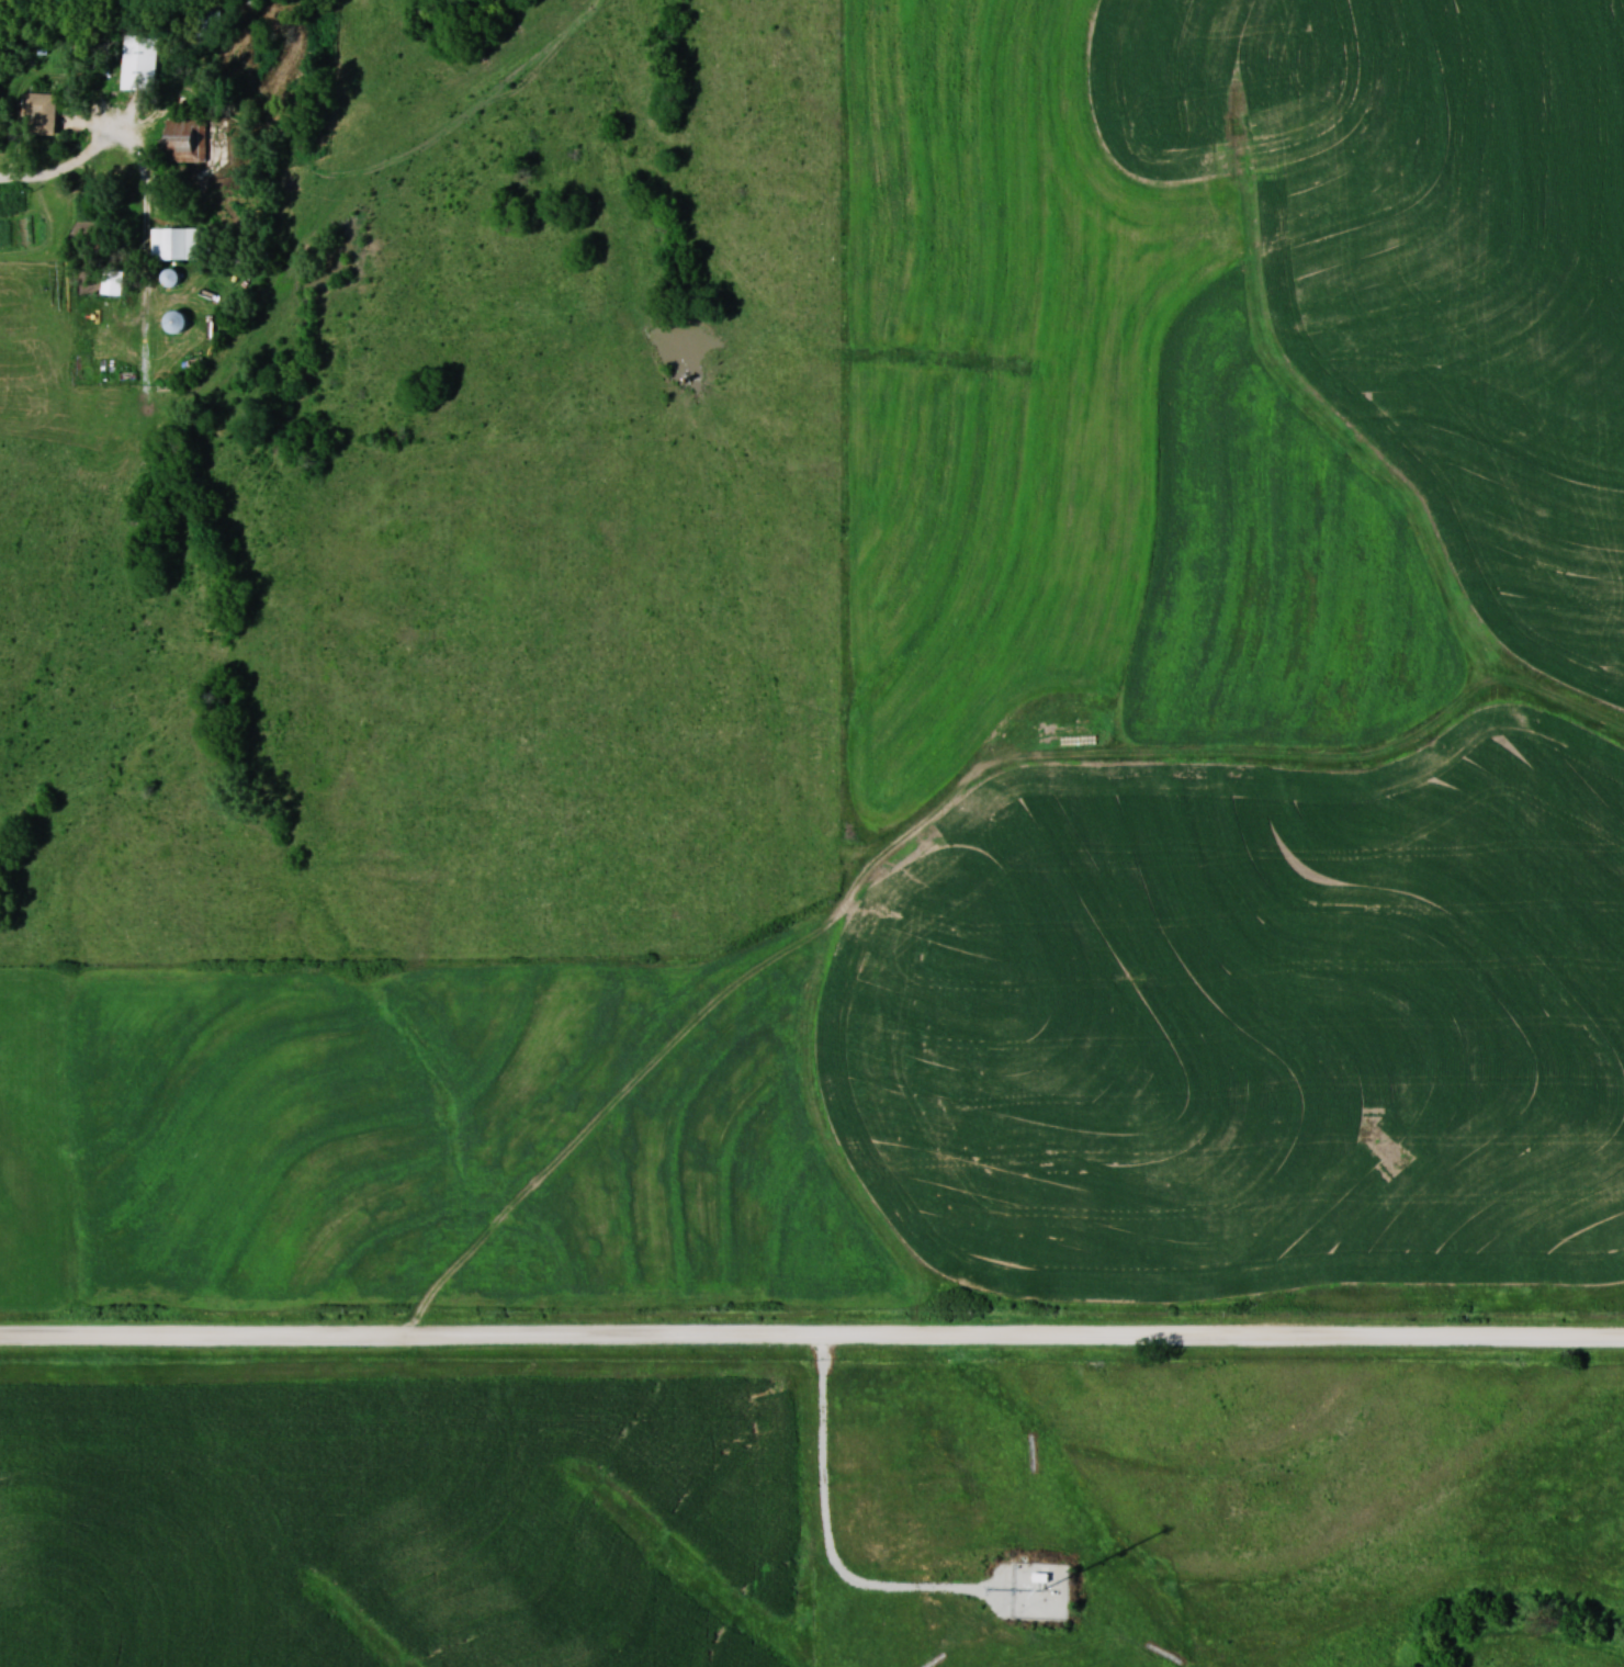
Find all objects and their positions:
building: (137, 63)
building: (41, 112)
building: (185, 140)
road: (63, 169)
building: (174, 243)
building: (170, 278)
building: (112, 282)
building: (176, 323)
road: (812, 1333)

